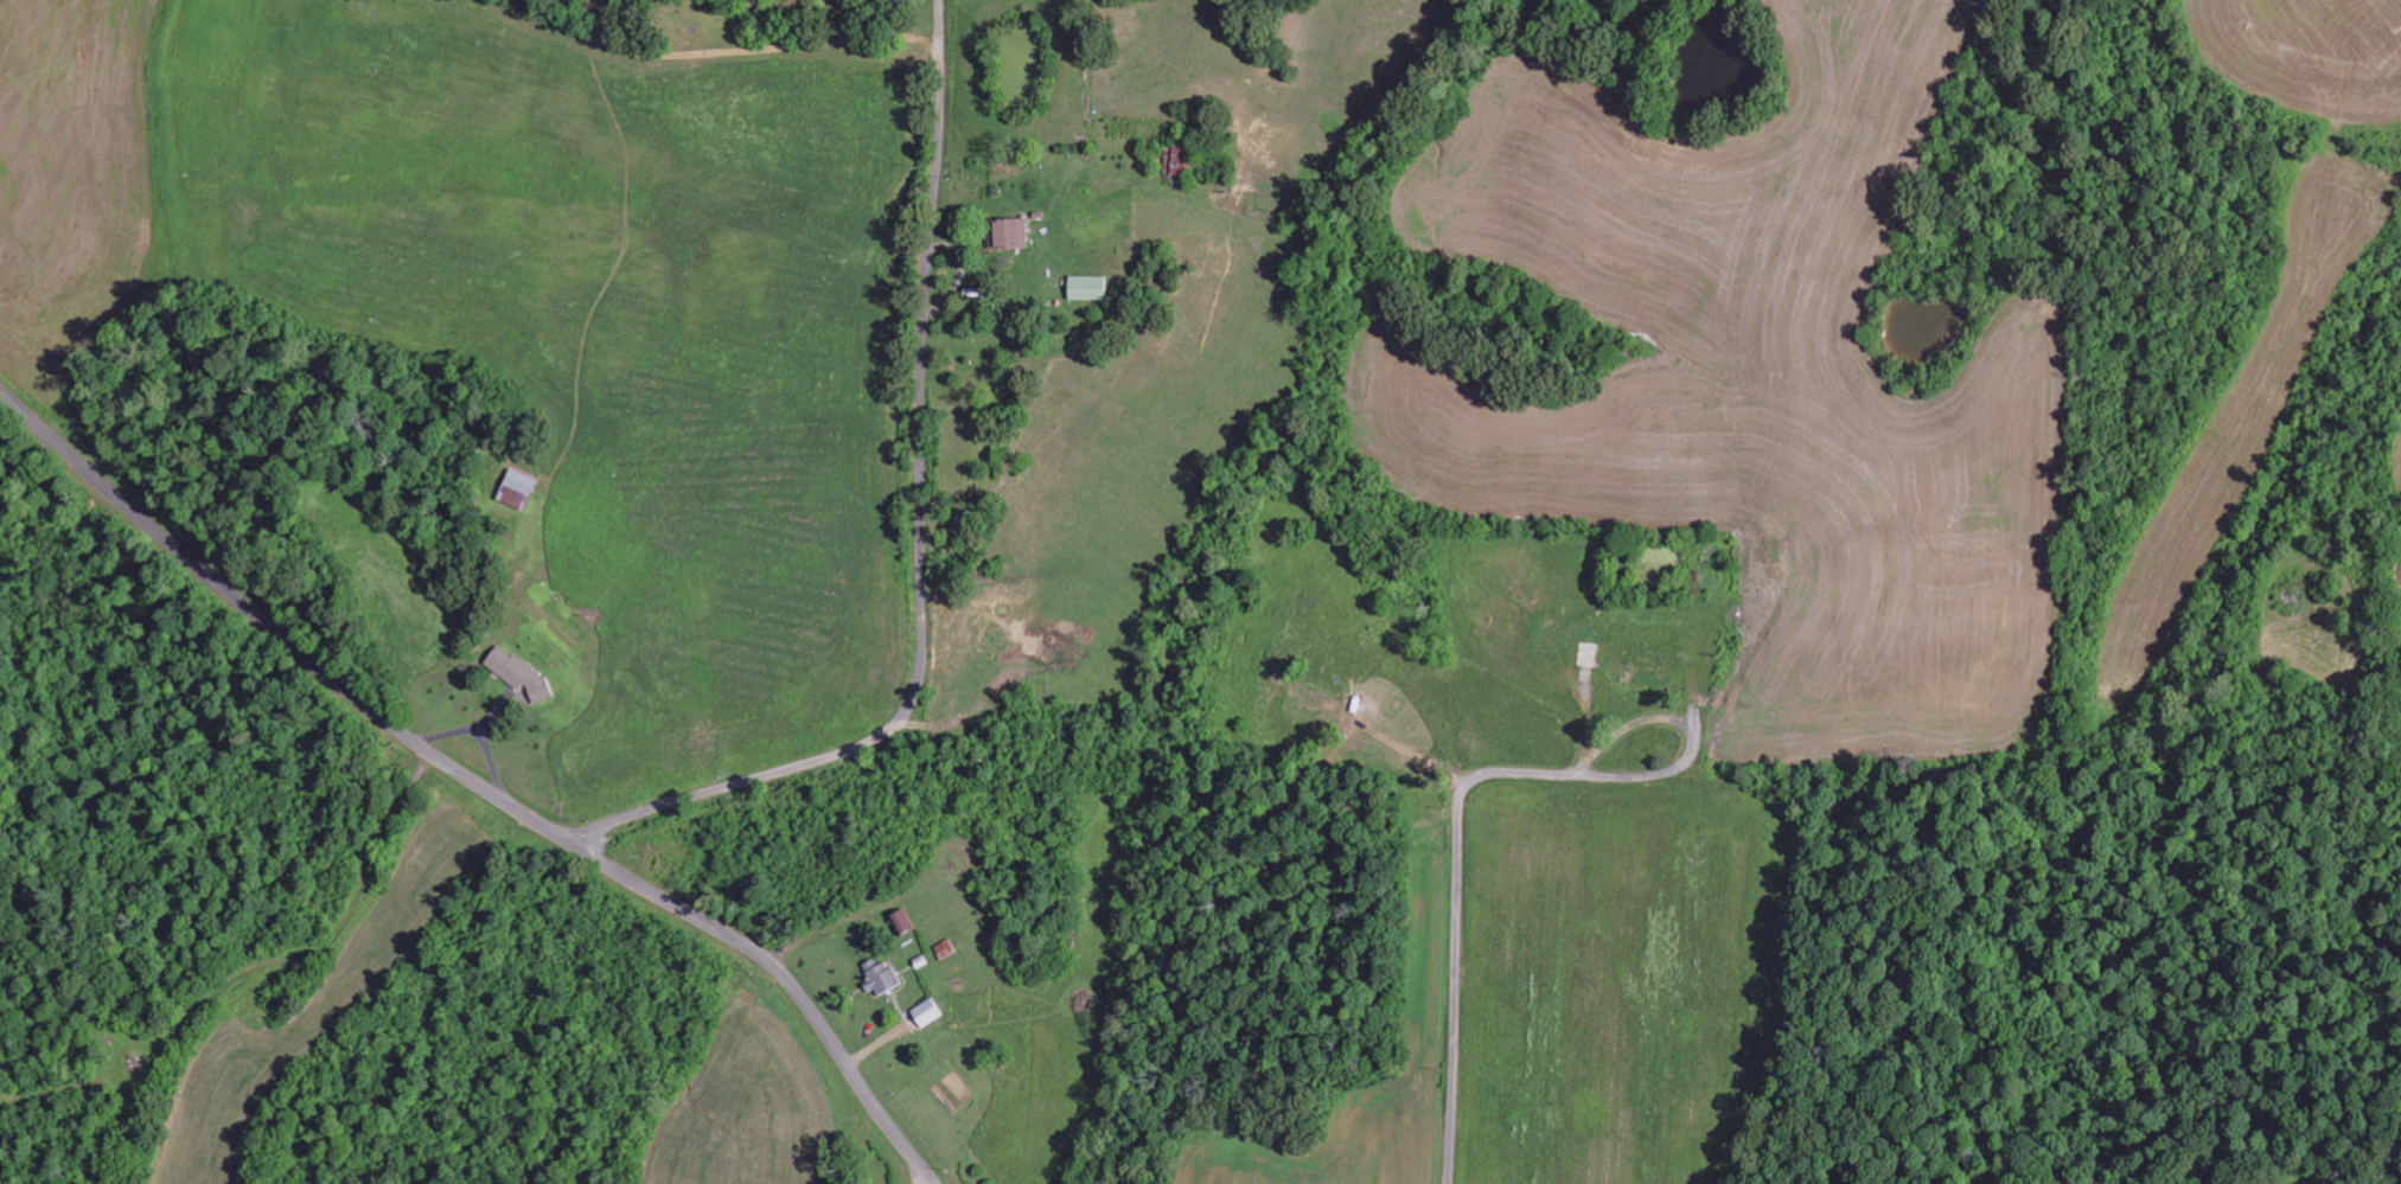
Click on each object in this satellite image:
building: (1009, 233)
building: (1087, 287)
building: (516, 489)
road: (924, 538)
building: (517, 673)
road: (478, 782)
road: (1458, 844)
building: (901, 921)
building: (946, 949)
building: (880, 975)
building: (927, 1012)
road: (927, 1182)

